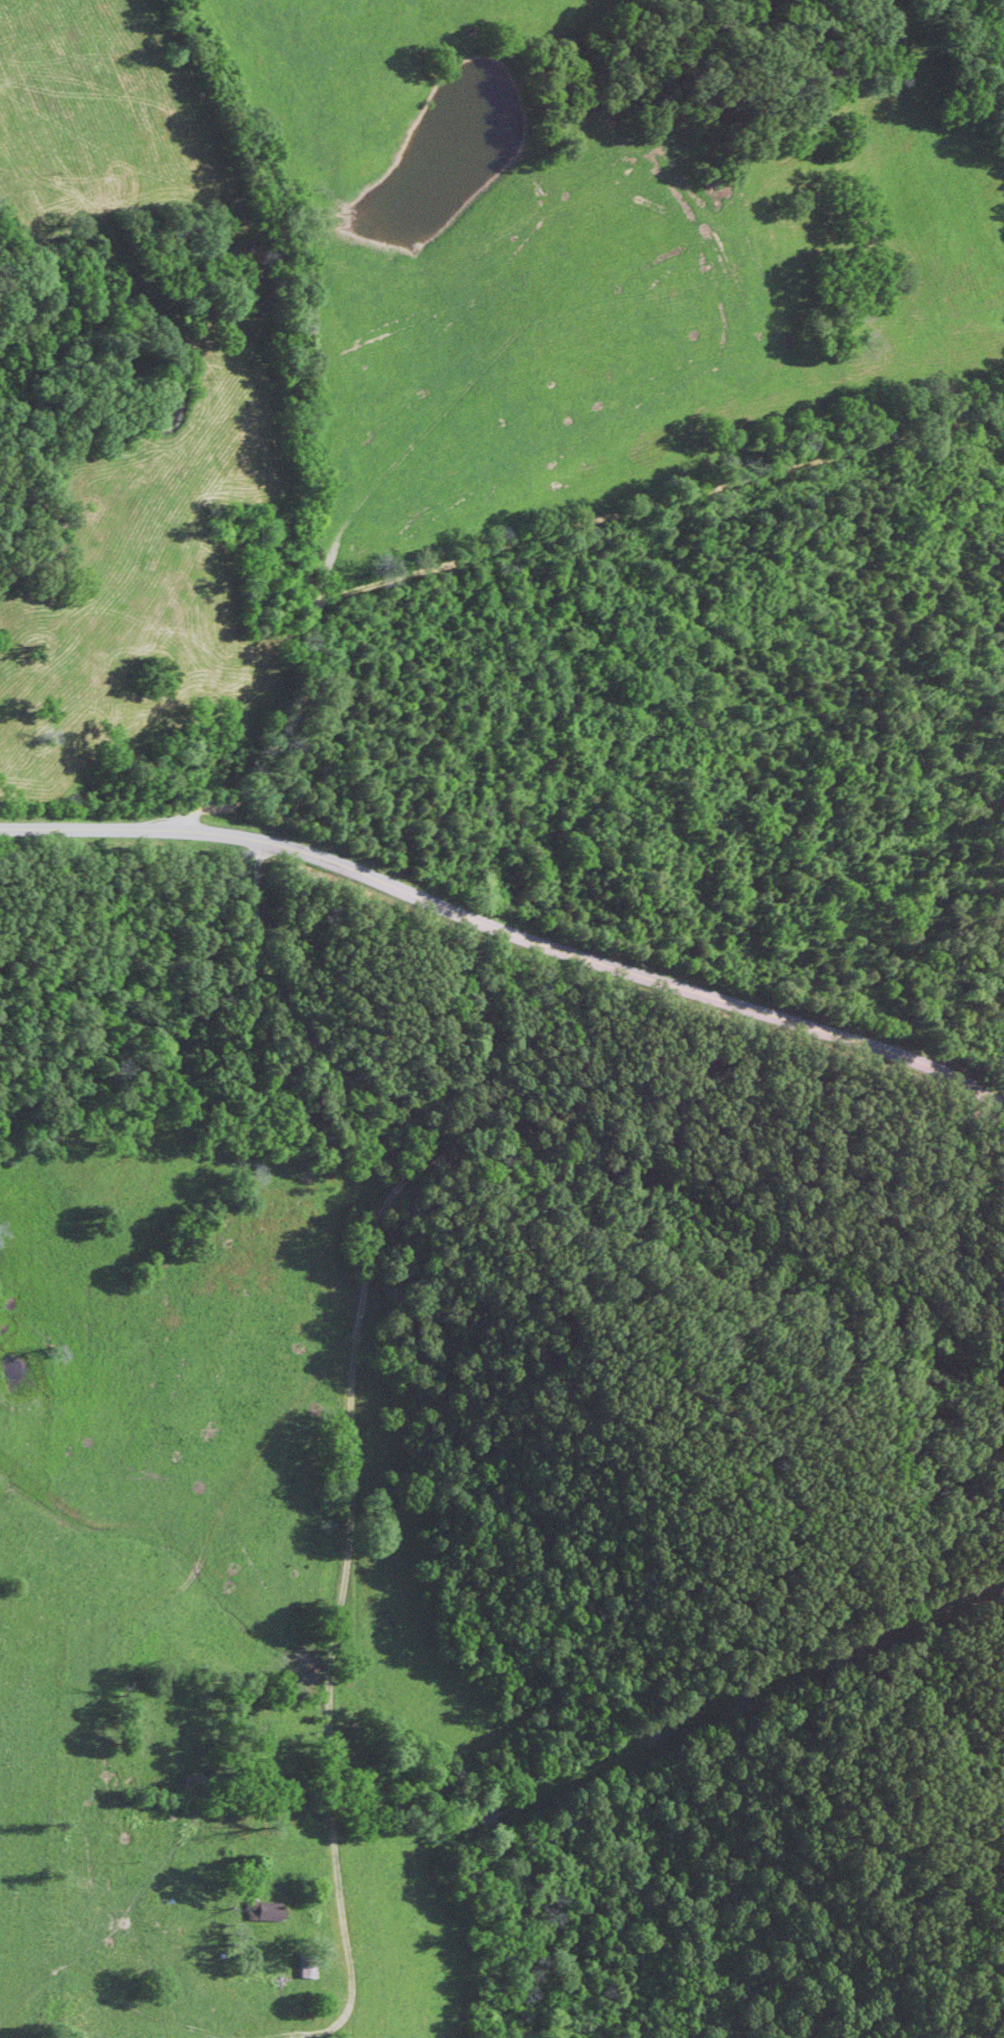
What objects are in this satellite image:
road: (306, 432)
road: (659, 510)
road: (507, 929)
road: (359, 1418)
building: (266, 1909)

